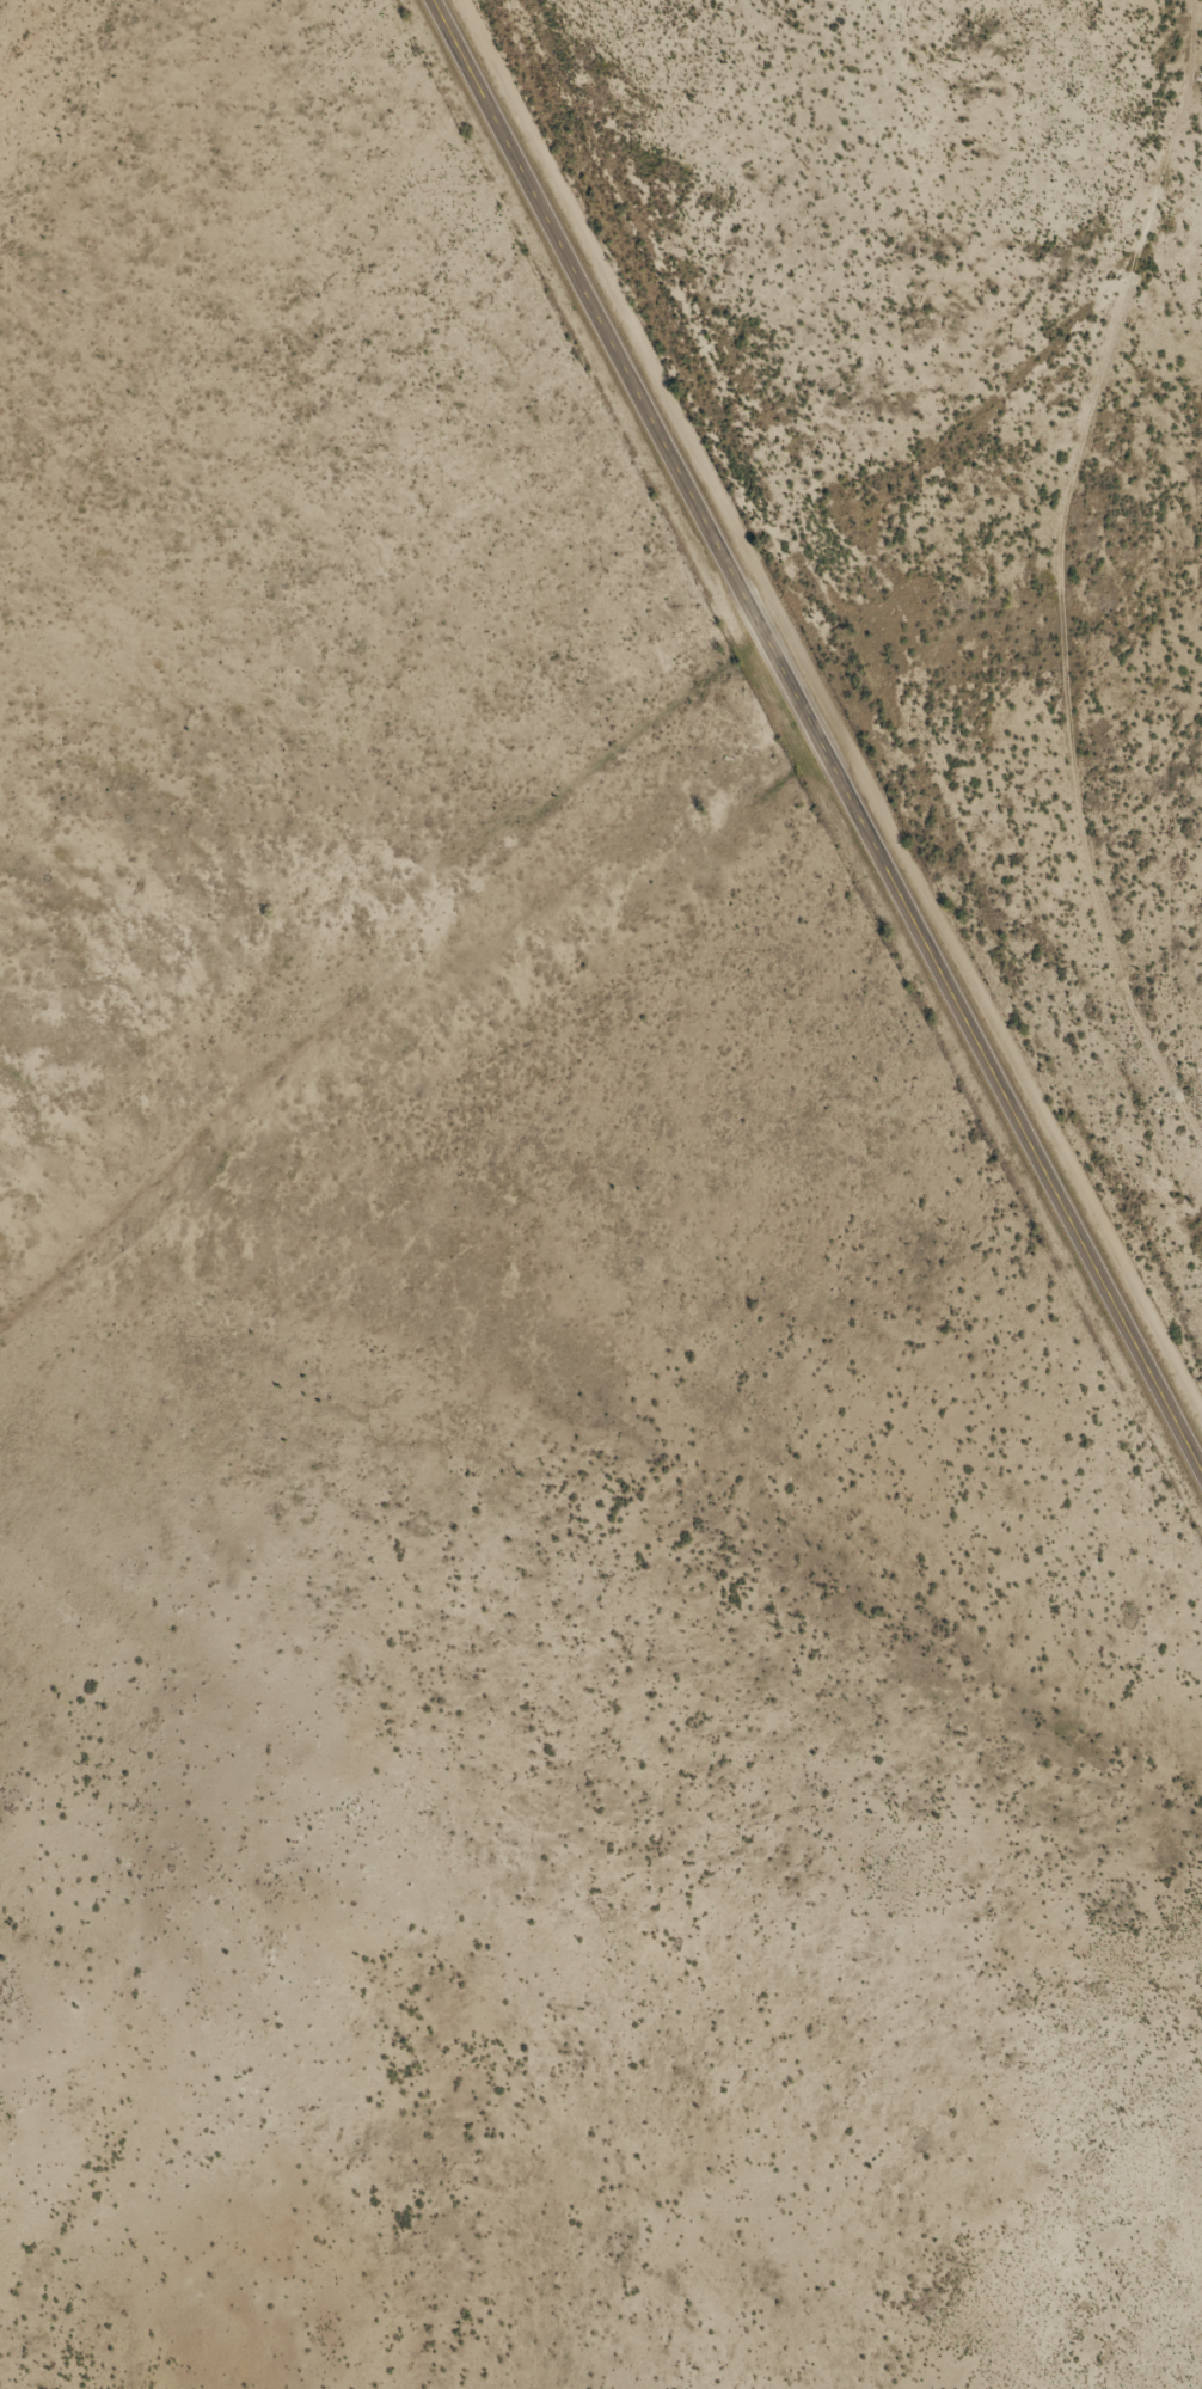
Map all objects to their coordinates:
road: (818, 733)

